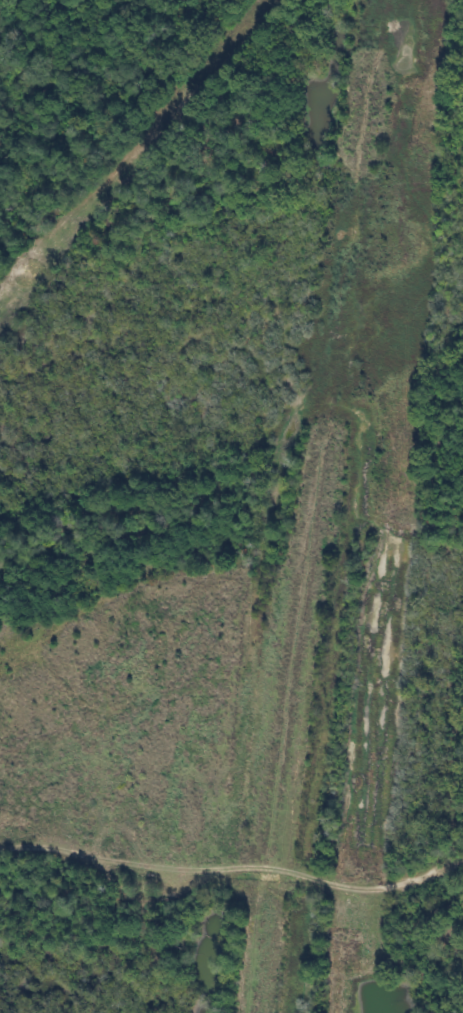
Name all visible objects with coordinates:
road: (233, 868)

